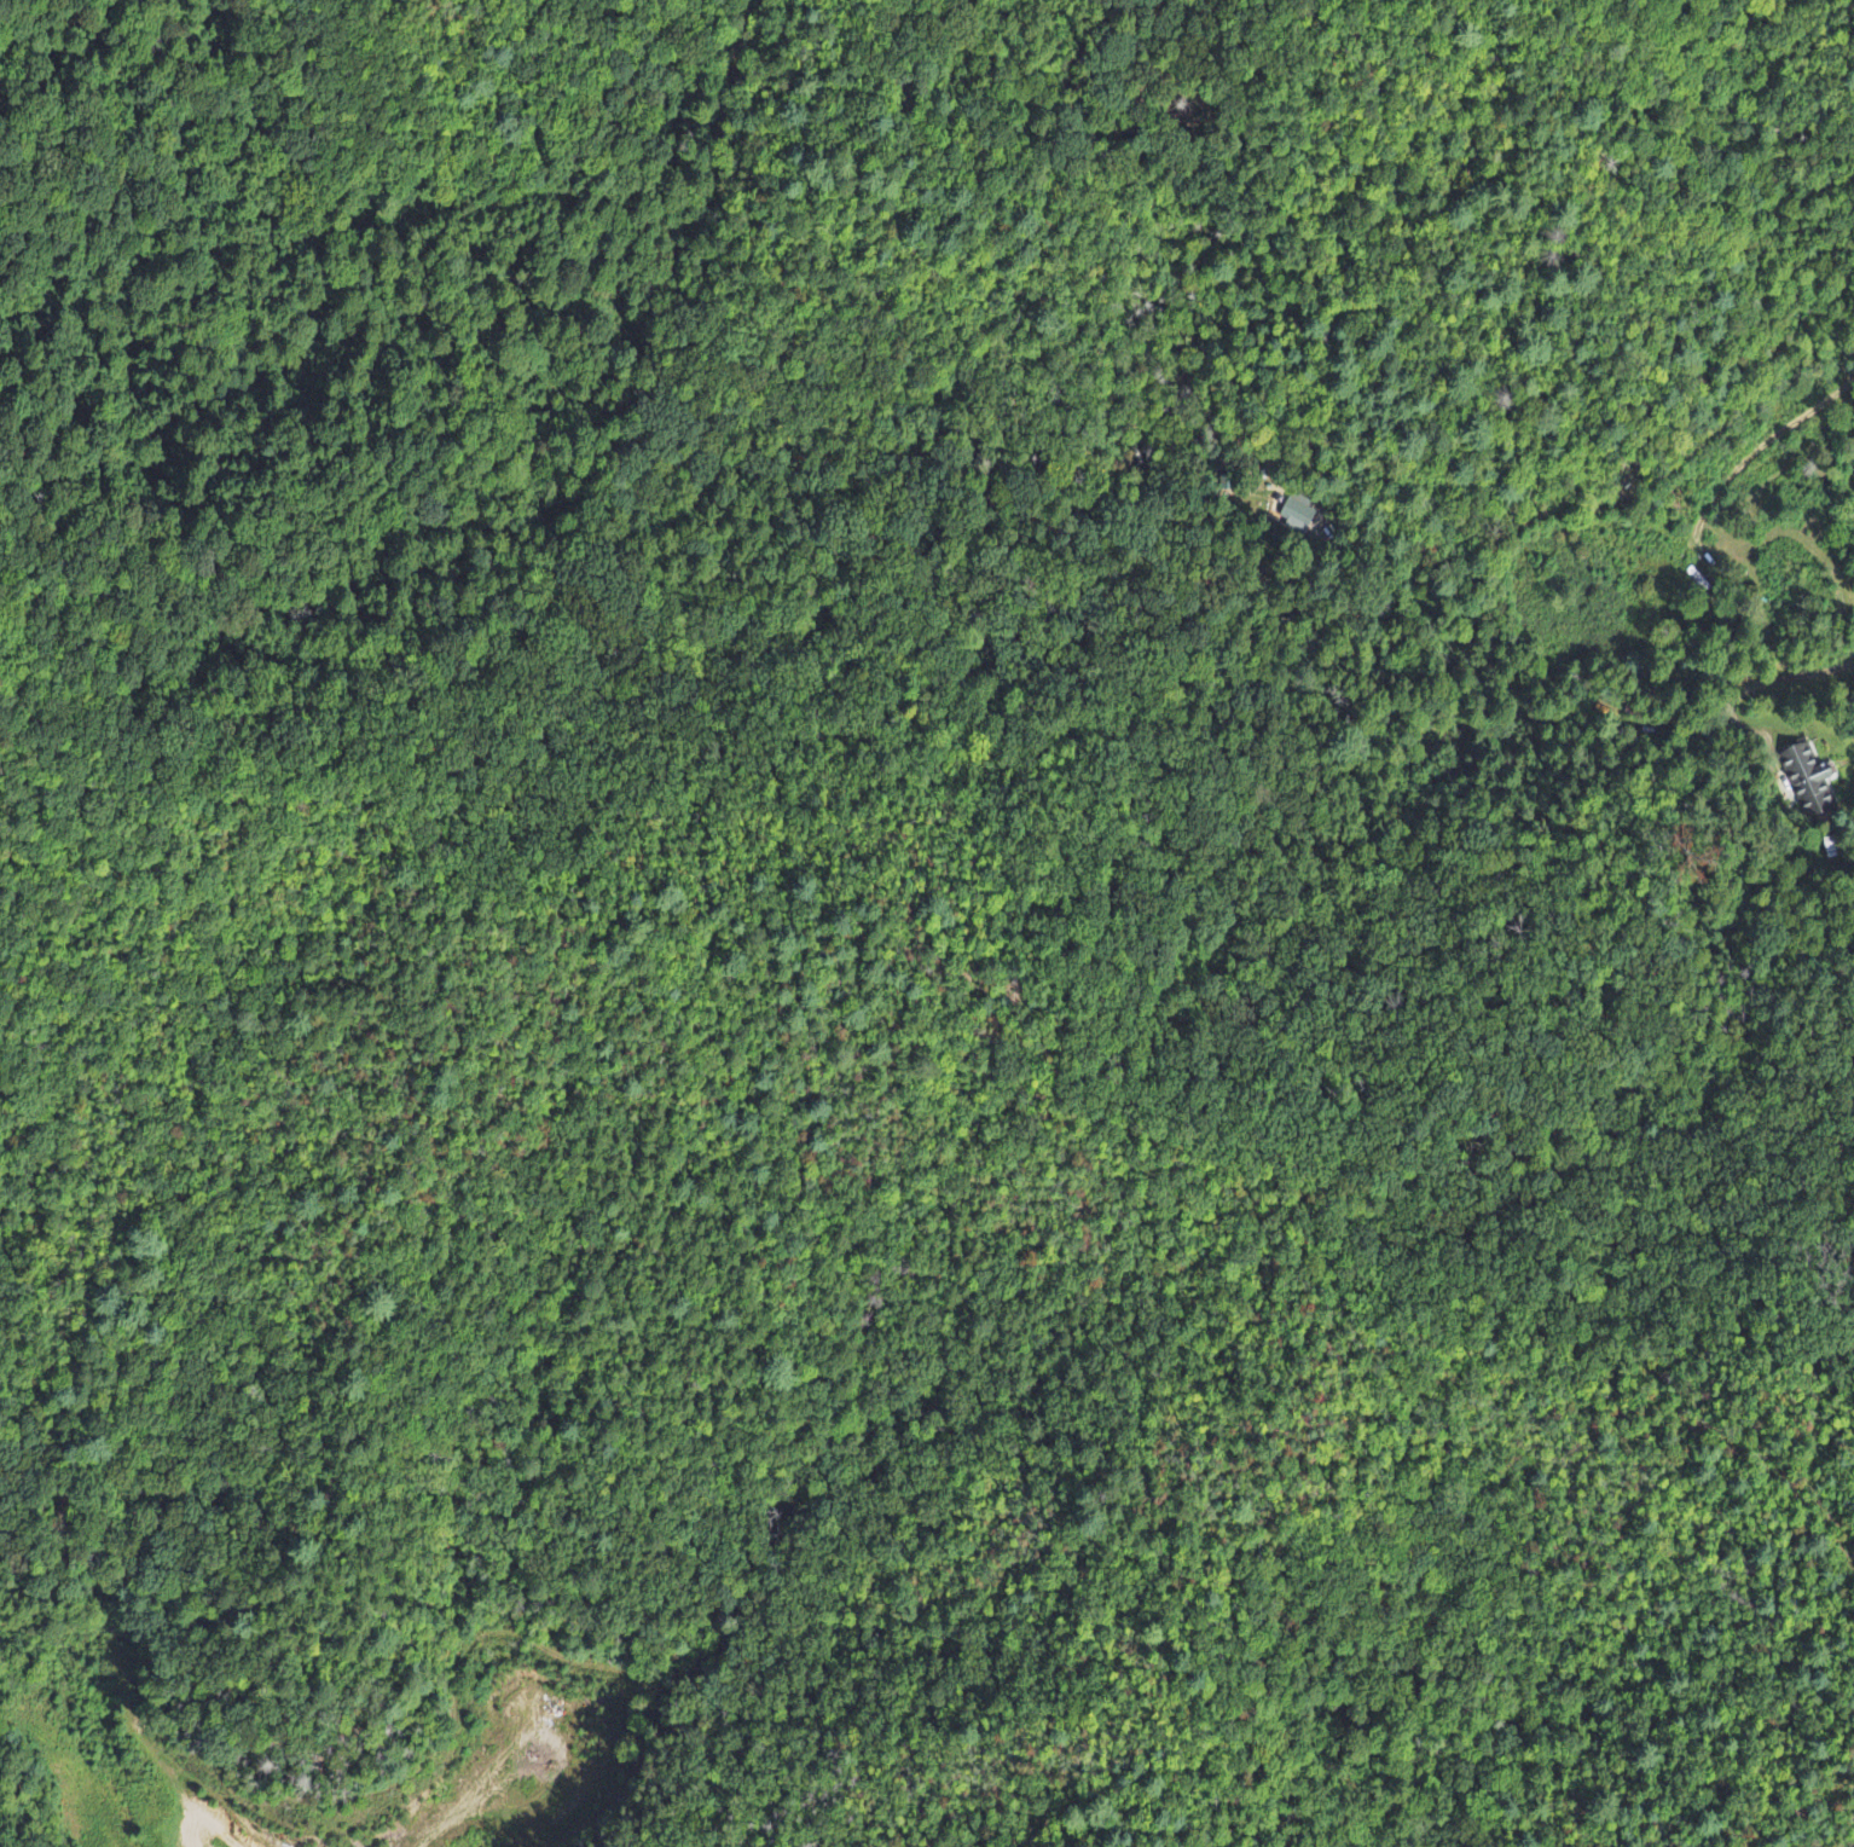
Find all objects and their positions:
road: (1610, 516)
building: (1806, 778)

